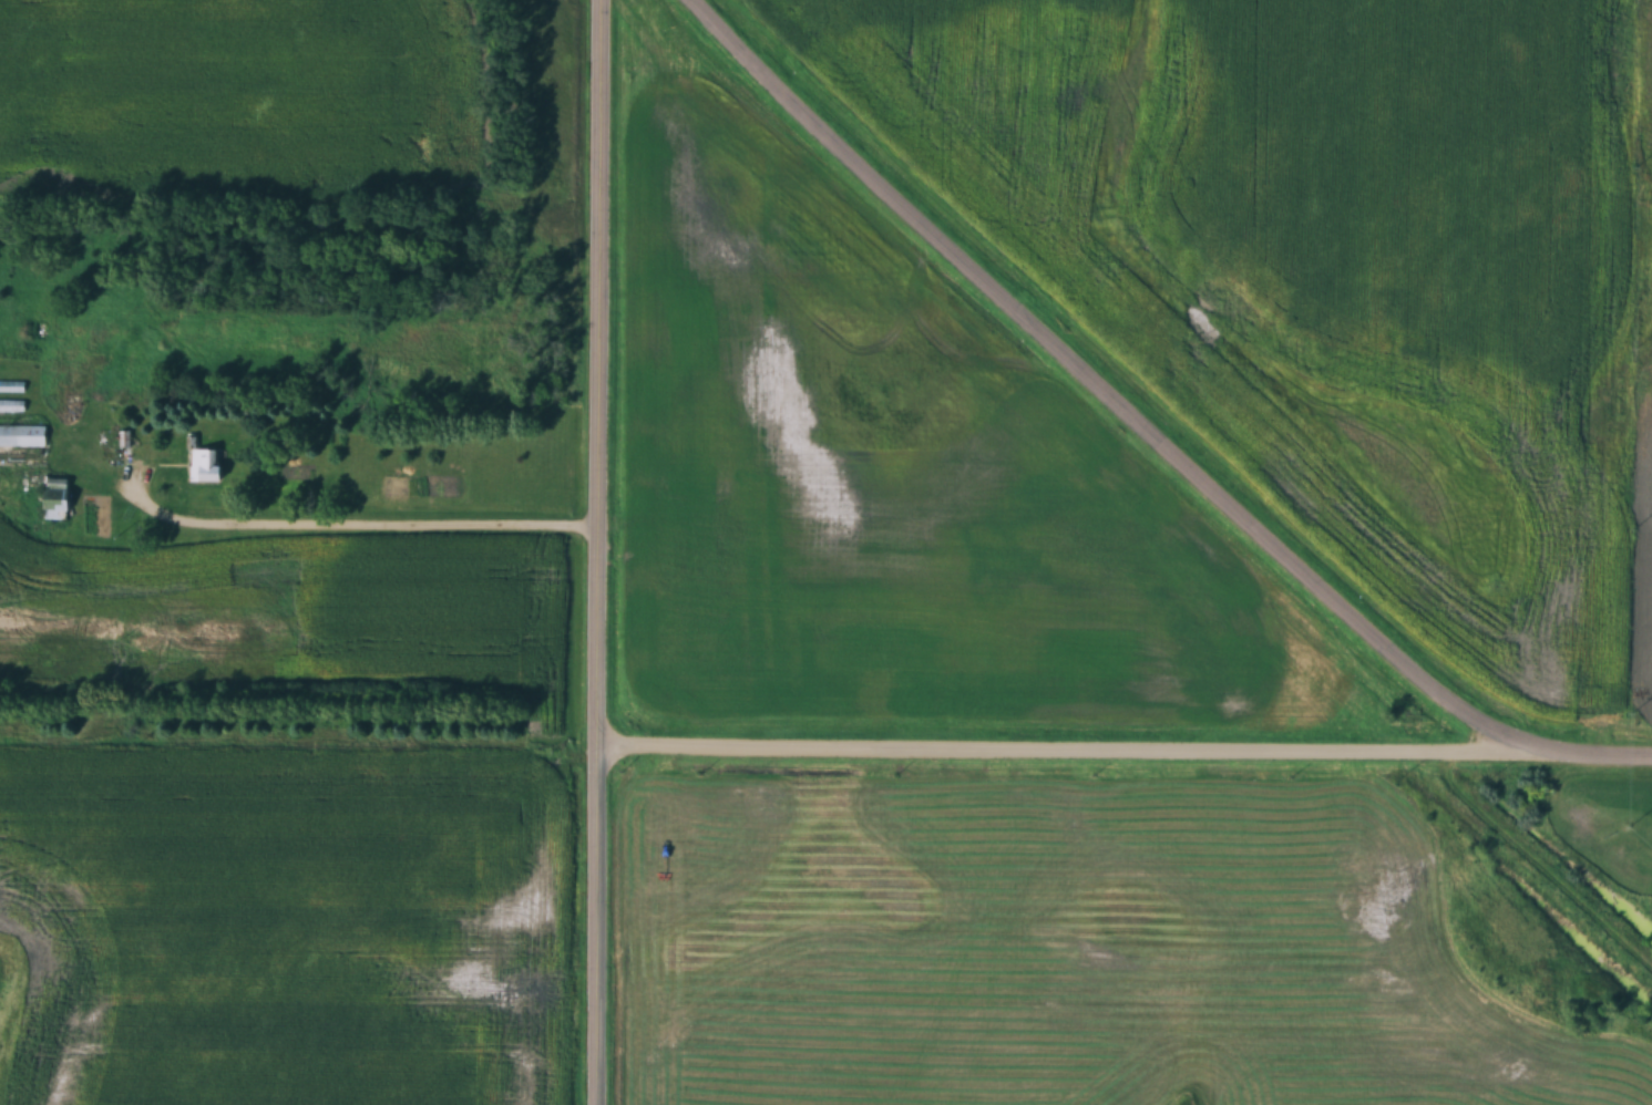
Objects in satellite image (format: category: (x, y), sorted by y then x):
road: (1112, 393)
building: (23, 436)
building: (208, 466)
building: (57, 499)
road: (365, 524)
road: (602, 552)
road: (1127, 753)

